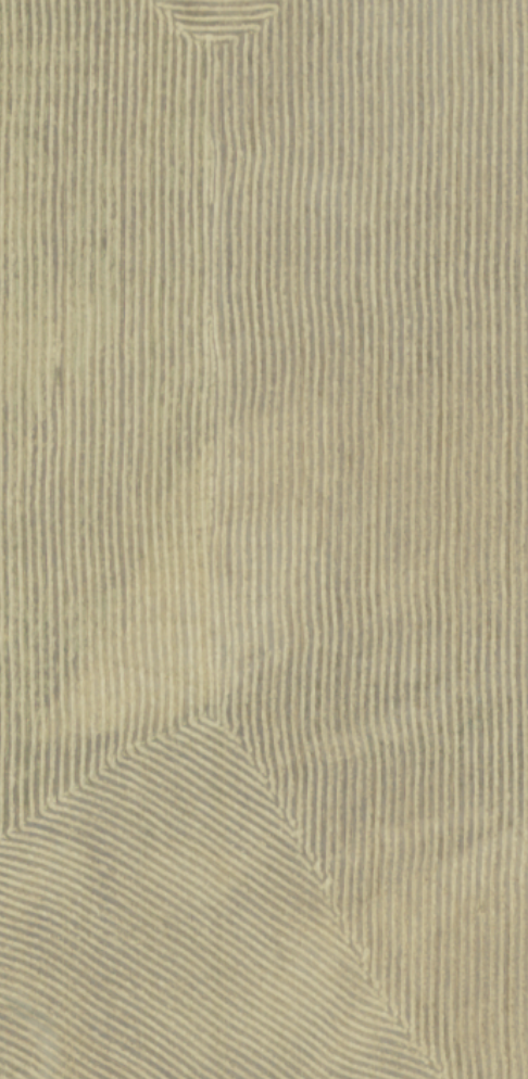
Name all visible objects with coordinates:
crop: (264, 539)

